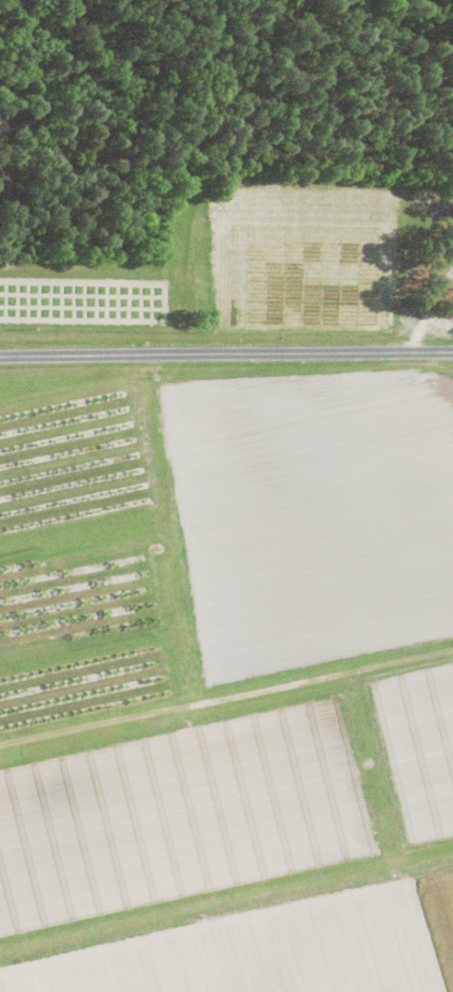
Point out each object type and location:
road: (226, 355)

